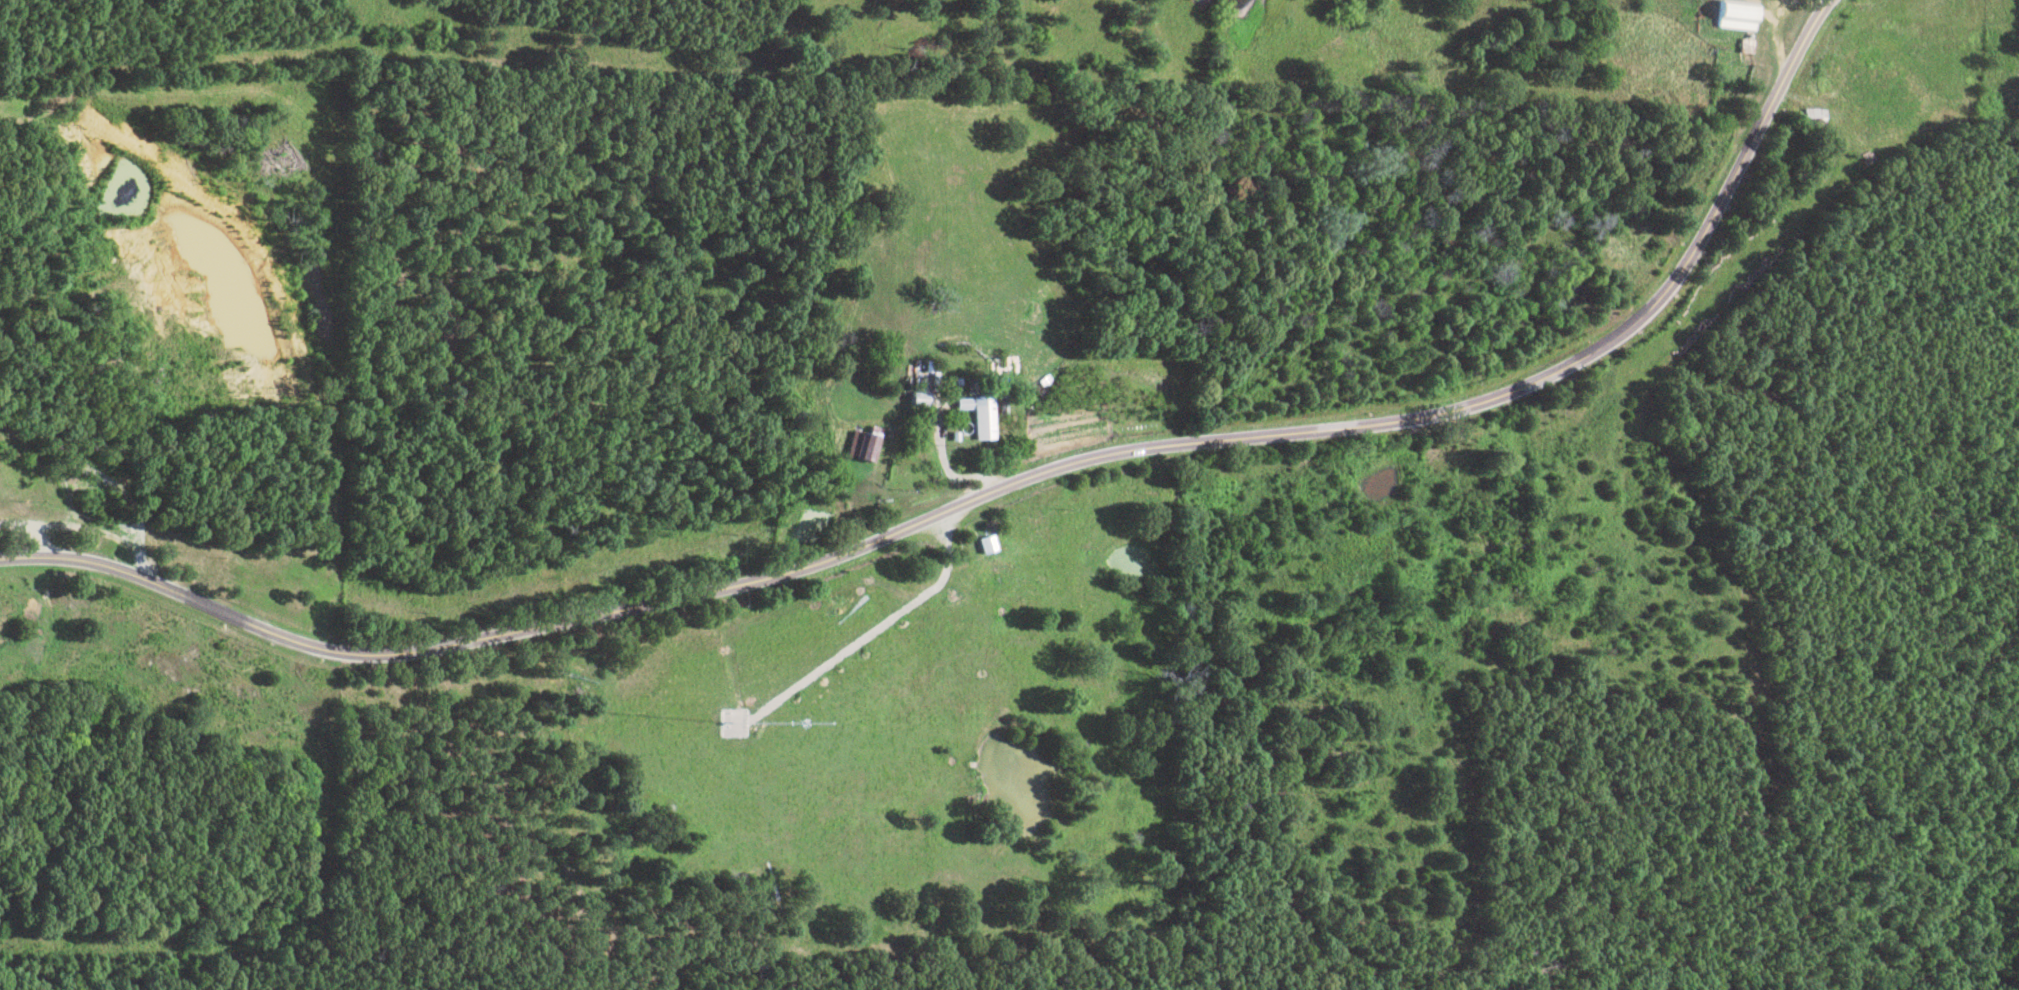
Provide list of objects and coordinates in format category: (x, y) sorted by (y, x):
building: (1805, 117)
building: (1374, 209)
building: (904, 407)
building: (971, 422)
building: (851, 453)
road: (999, 487)
building: (976, 548)

